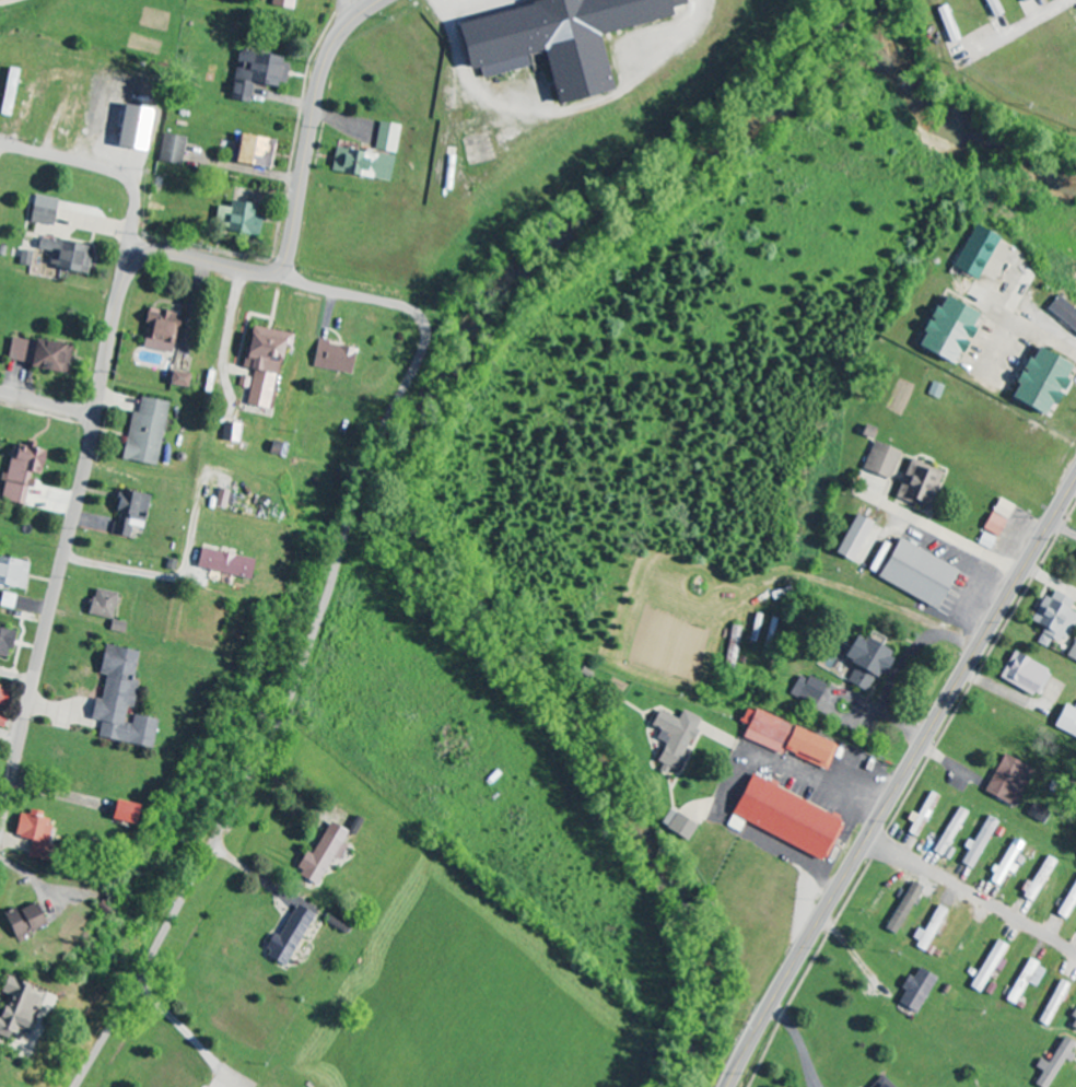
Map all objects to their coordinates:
building: (1022, 1)
building: (282, 3)
building: (992, 9)
road: (339, 21)
park: (104, 23)
building: (552, 40)
building: (256, 75)
building: (8, 92)
river: (950, 120)
building: (387, 139)
building: (169, 151)
building: (250, 153)
building: (360, 165)
road: (117, 174)
building: (42, 211)
building: (236, 217)
building: (973, 254)
building: (65, 257)
building: (24, 259)
road: (274, 271)
building: (1063, 314)
building: (944, 331)
building: (159, 332)
building: (39, 357)
building: (334, 359)
building: (262, 364)
building: (176, 381)
building: (1038, 382)
building: (934, 391)
road: (47, 406)
building: (145, 433)
building: (232, 433)
building: (879, 461)
building: (20, 474)
building: (916, 486)
building: (221, 500)
building: (1002, 510)
building: (129, 513)
building: (992, 525)
road: (1063, 529)
building: (851, 539)
building: (223, 565)
building: (12, 574)
building: (913, 575)
building: (7, 600)
building: (102, 604)
road: (47, 618)
building: (1052, 620)
building: (117, 627)
building: (755, 629)
building: (3, 642)
road: (311, 643)
building: (733, 645)
building: (1072, 652)
building: (863, 664)
building: (1024, 676)
building: (806, 691)
building: (1, 696)
building: (118, 700)
building: (1, 722)
building: (1066, 723)
building: (672, 738)
building: (784, 738)
building: (1006, 781)
road: (899, 782)
building: (120, 811)
building: (1036, 813)
building: (921, 816)
building: (784, 817)
building: (676, 825)
building: (32, 831)
building: (949, 832)
building: (976, 844)
building: (321, 854)
building: (1006, 863)
building: (1036, 881)
road: (972, 892)
building: (1067, 901)
building: (24, 920)
building: (927, 928)
building: (289, 937)
building: (987, 968)
building: (1025, 981)
building: (914, 991)
building: (1053, 1003)
building: (16, 1007)
building: (1073, 1021)
building: (1052, 1063)
building: (879, 1083)

